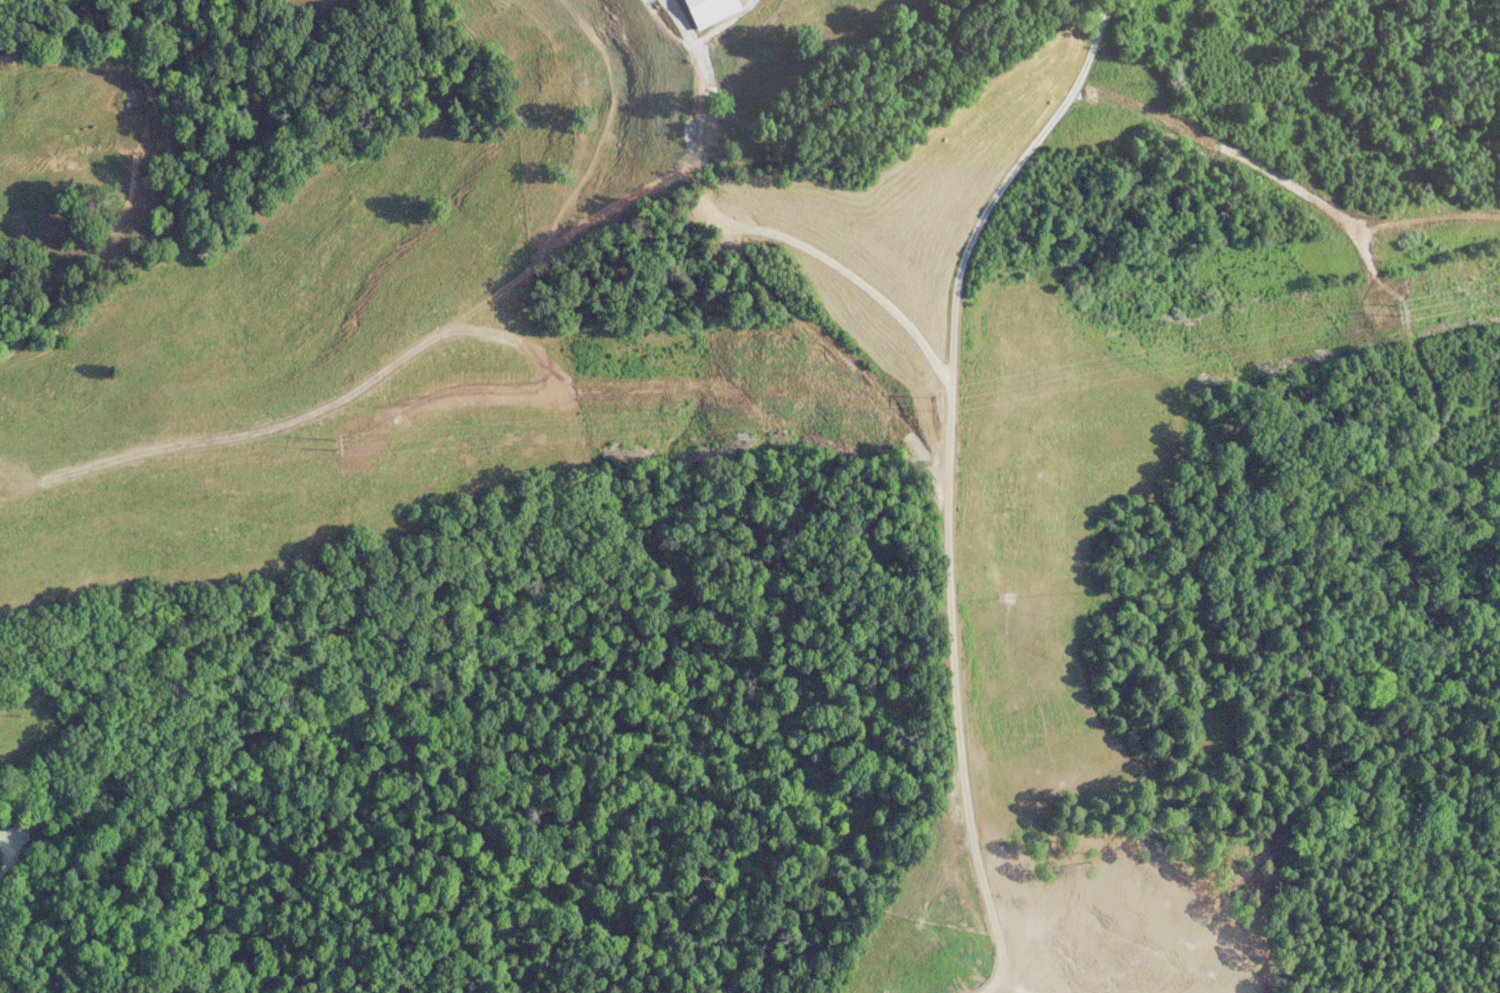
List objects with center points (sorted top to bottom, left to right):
road: (946, 482)

